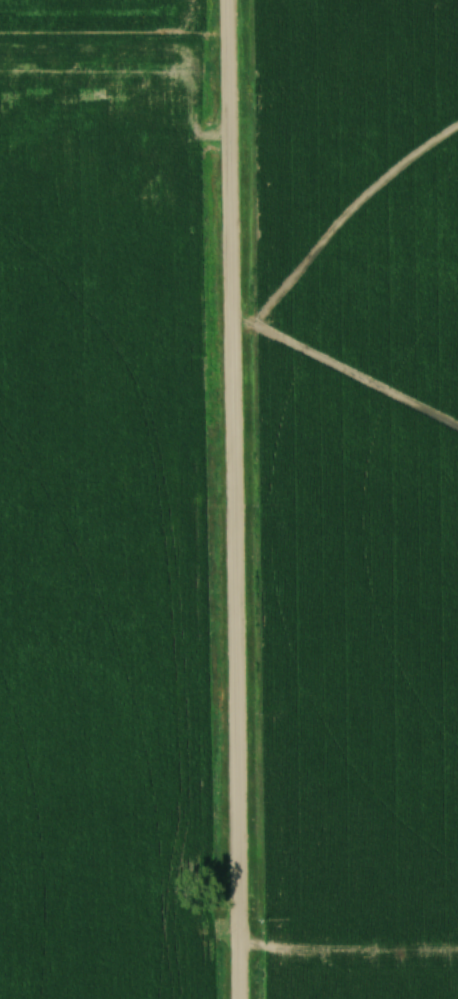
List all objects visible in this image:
road: (228, 499)

